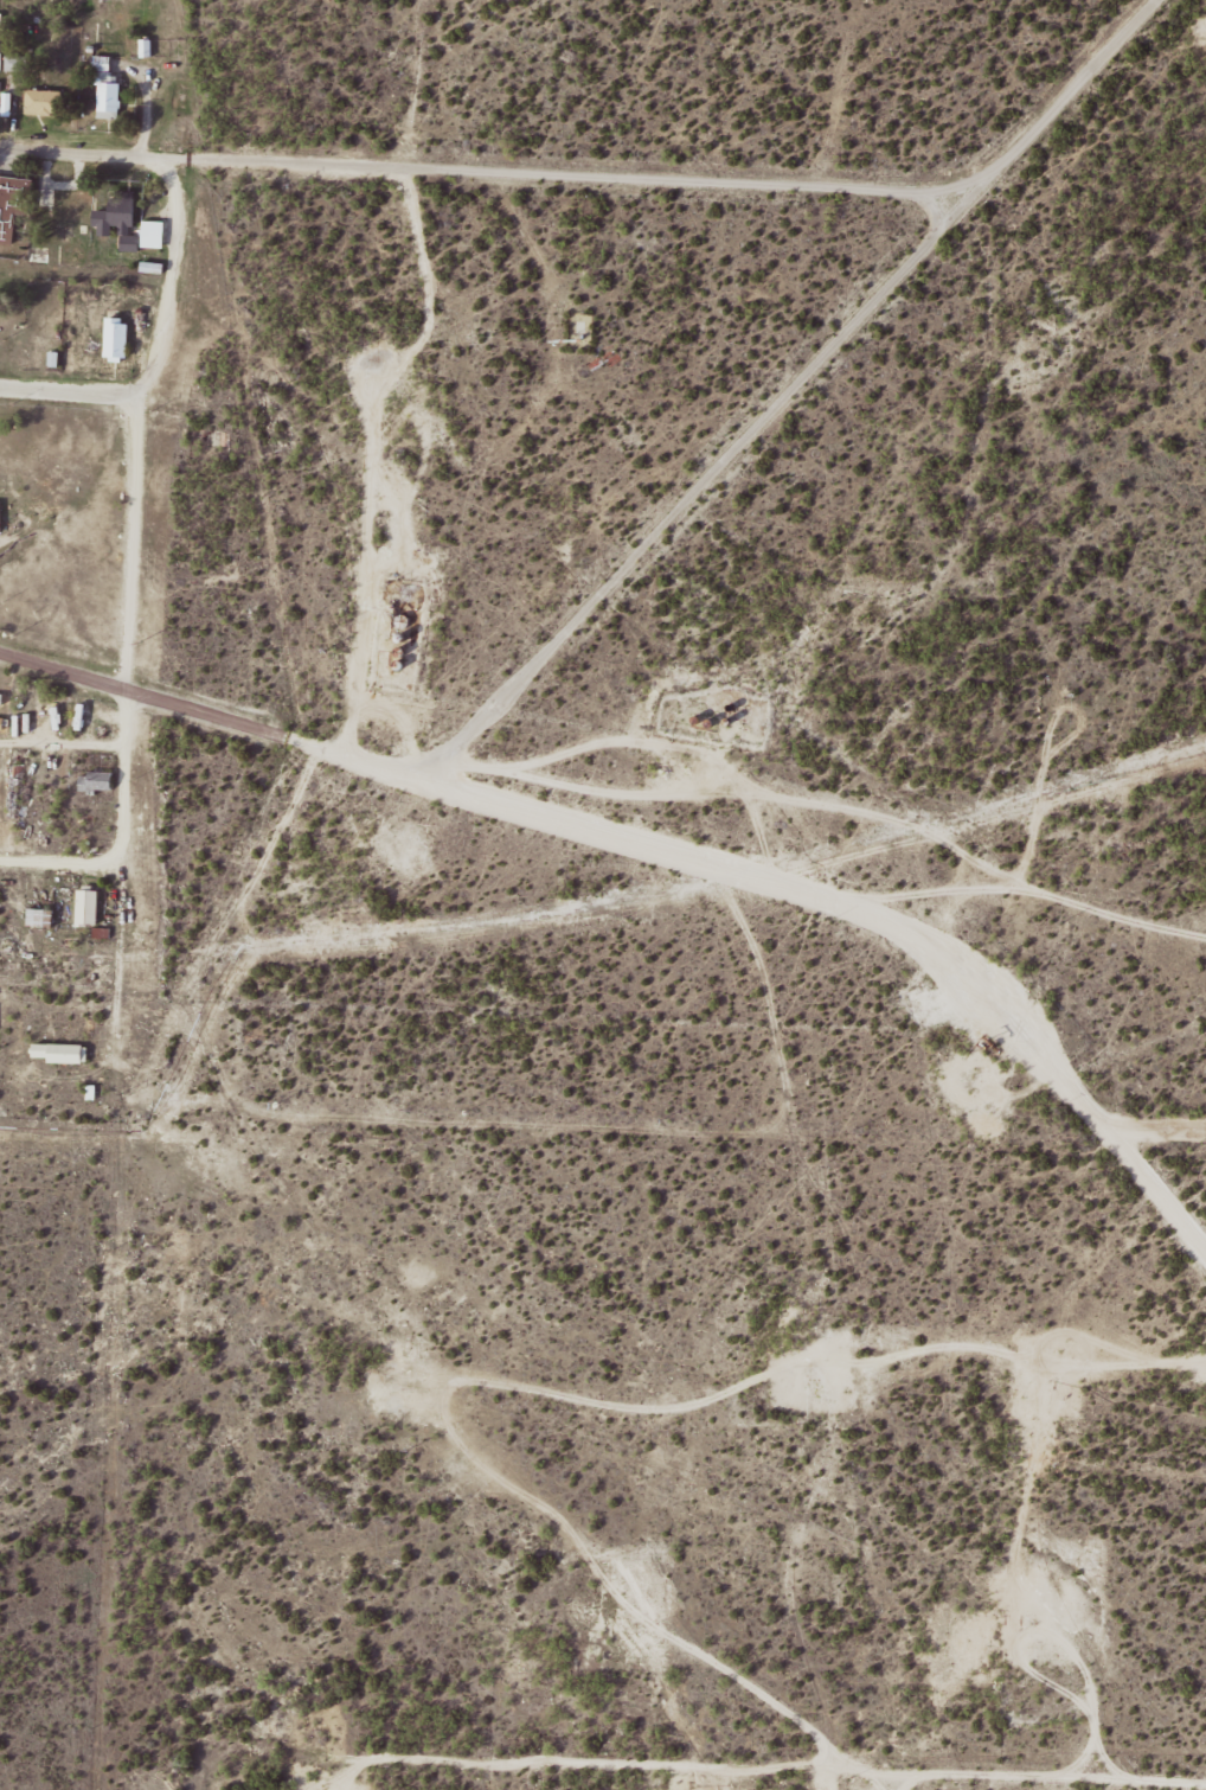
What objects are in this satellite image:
building: (1, 30)
building: (18, 62)
building: (108, 89)
building: (45, 101)
road: (83, 153)
road: (570, 174)
building: (13, 204)
building: (120, 223)
building: (154, 234)
building: (117, 338)
road: (65, 390)
road: (130, 418)
building: (1, 517)
road: (64, 670)
building: (1, 698)
building: (97, 781)
road: (322, 846)
road: (50, 862)
road: (720, 864)
building: (89, 907)
building: (41, 918)
building: (60, 1053)
road: (1155, 1123)

